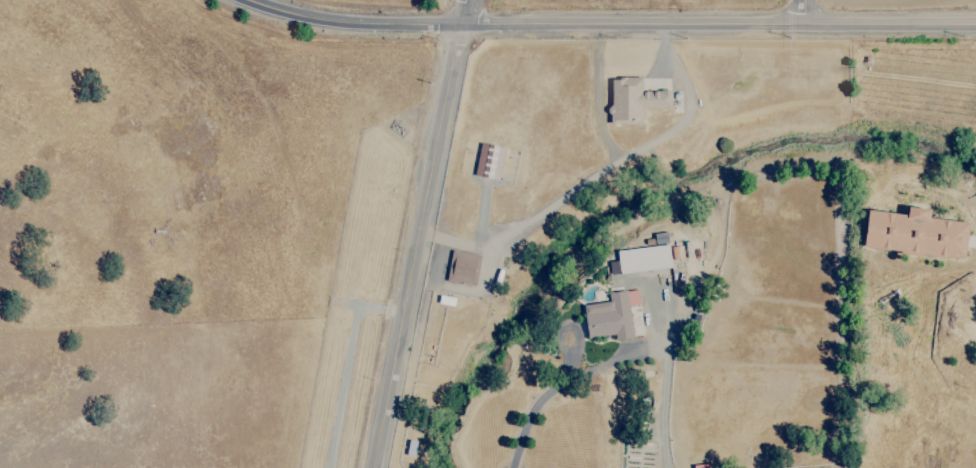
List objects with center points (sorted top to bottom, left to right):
road: (804, 11)
road: (466, 14)
road: (609, 25)
building: (633, 100)
road: (623, 158)
building: (488, 161)
park: (215, 162)
building: (914, 234)
road: (446, 239)
road: (415, 247)
building: (645, 257)
building: (462, 268)
building: (610, 316)
road: (615, 356)
road: (345, 365)

